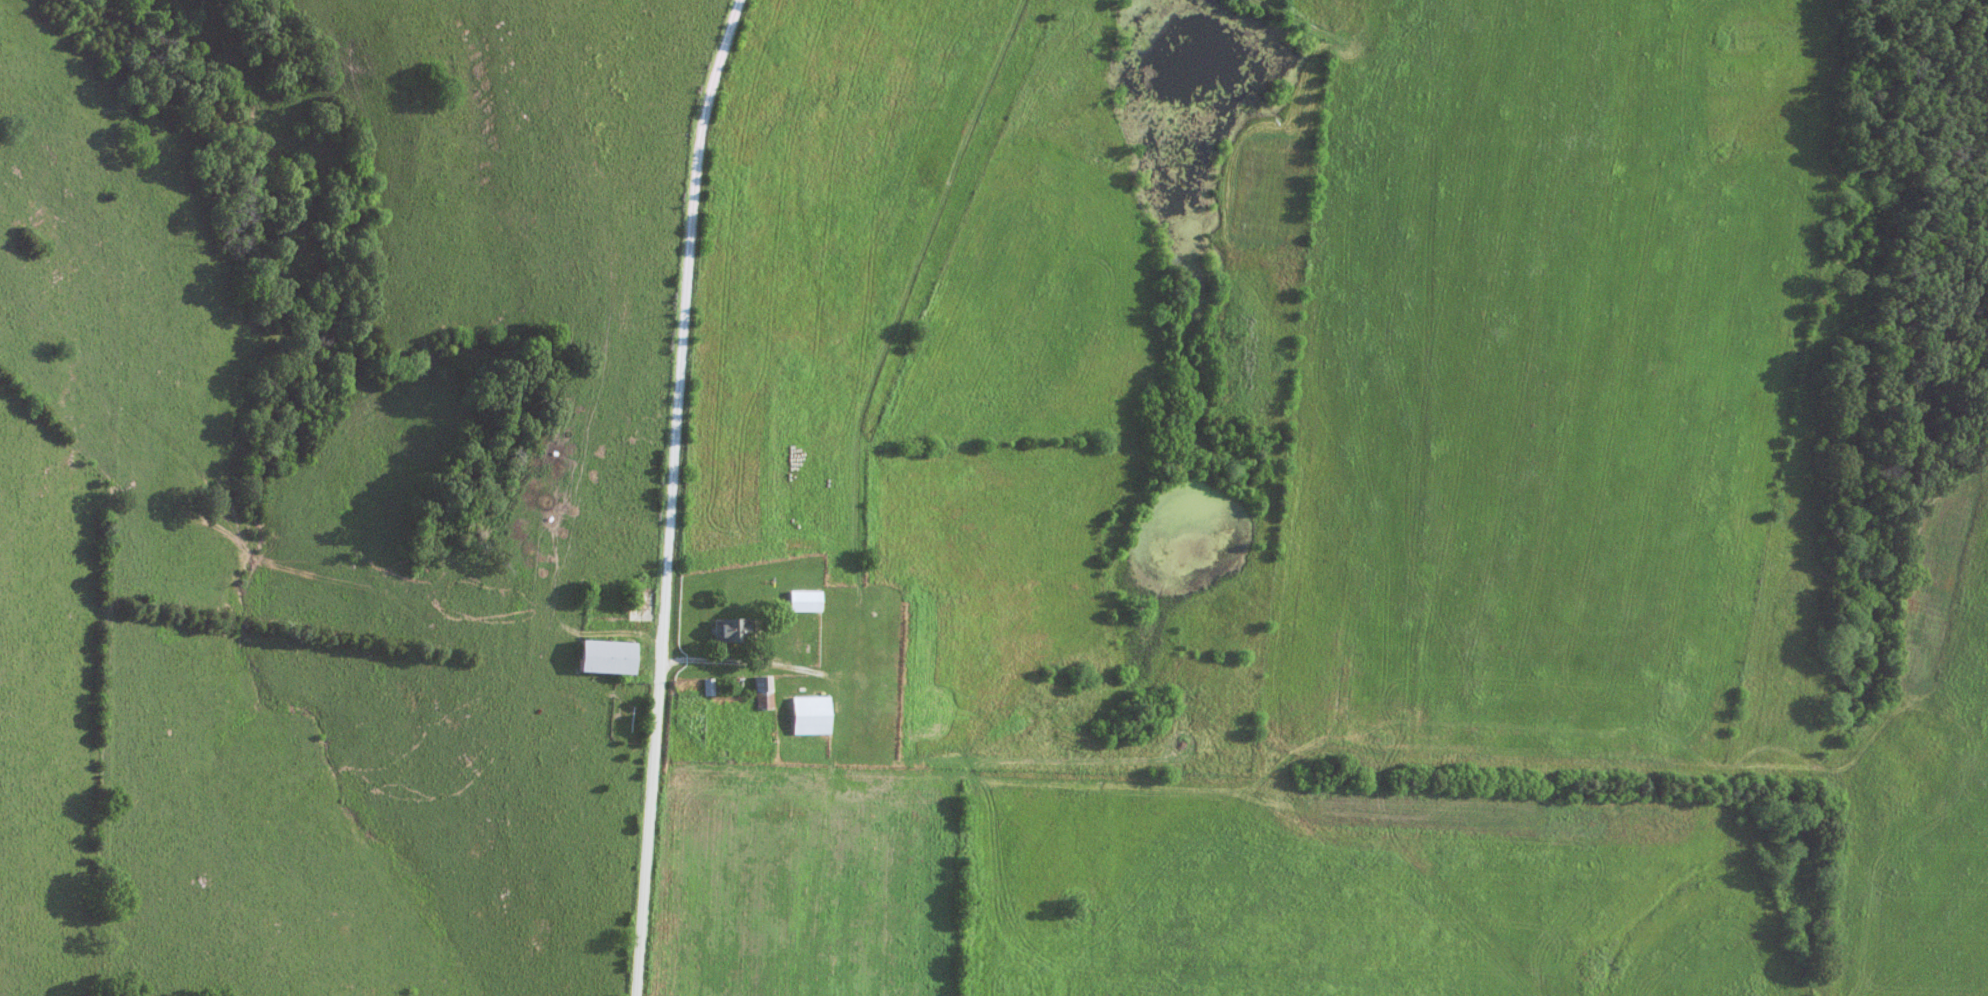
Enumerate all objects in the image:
road: (674, 494)
building: (809, 600)
building: (736, 629)
building: (613, 656)
building: (766, 692)
building: (814, 715)

